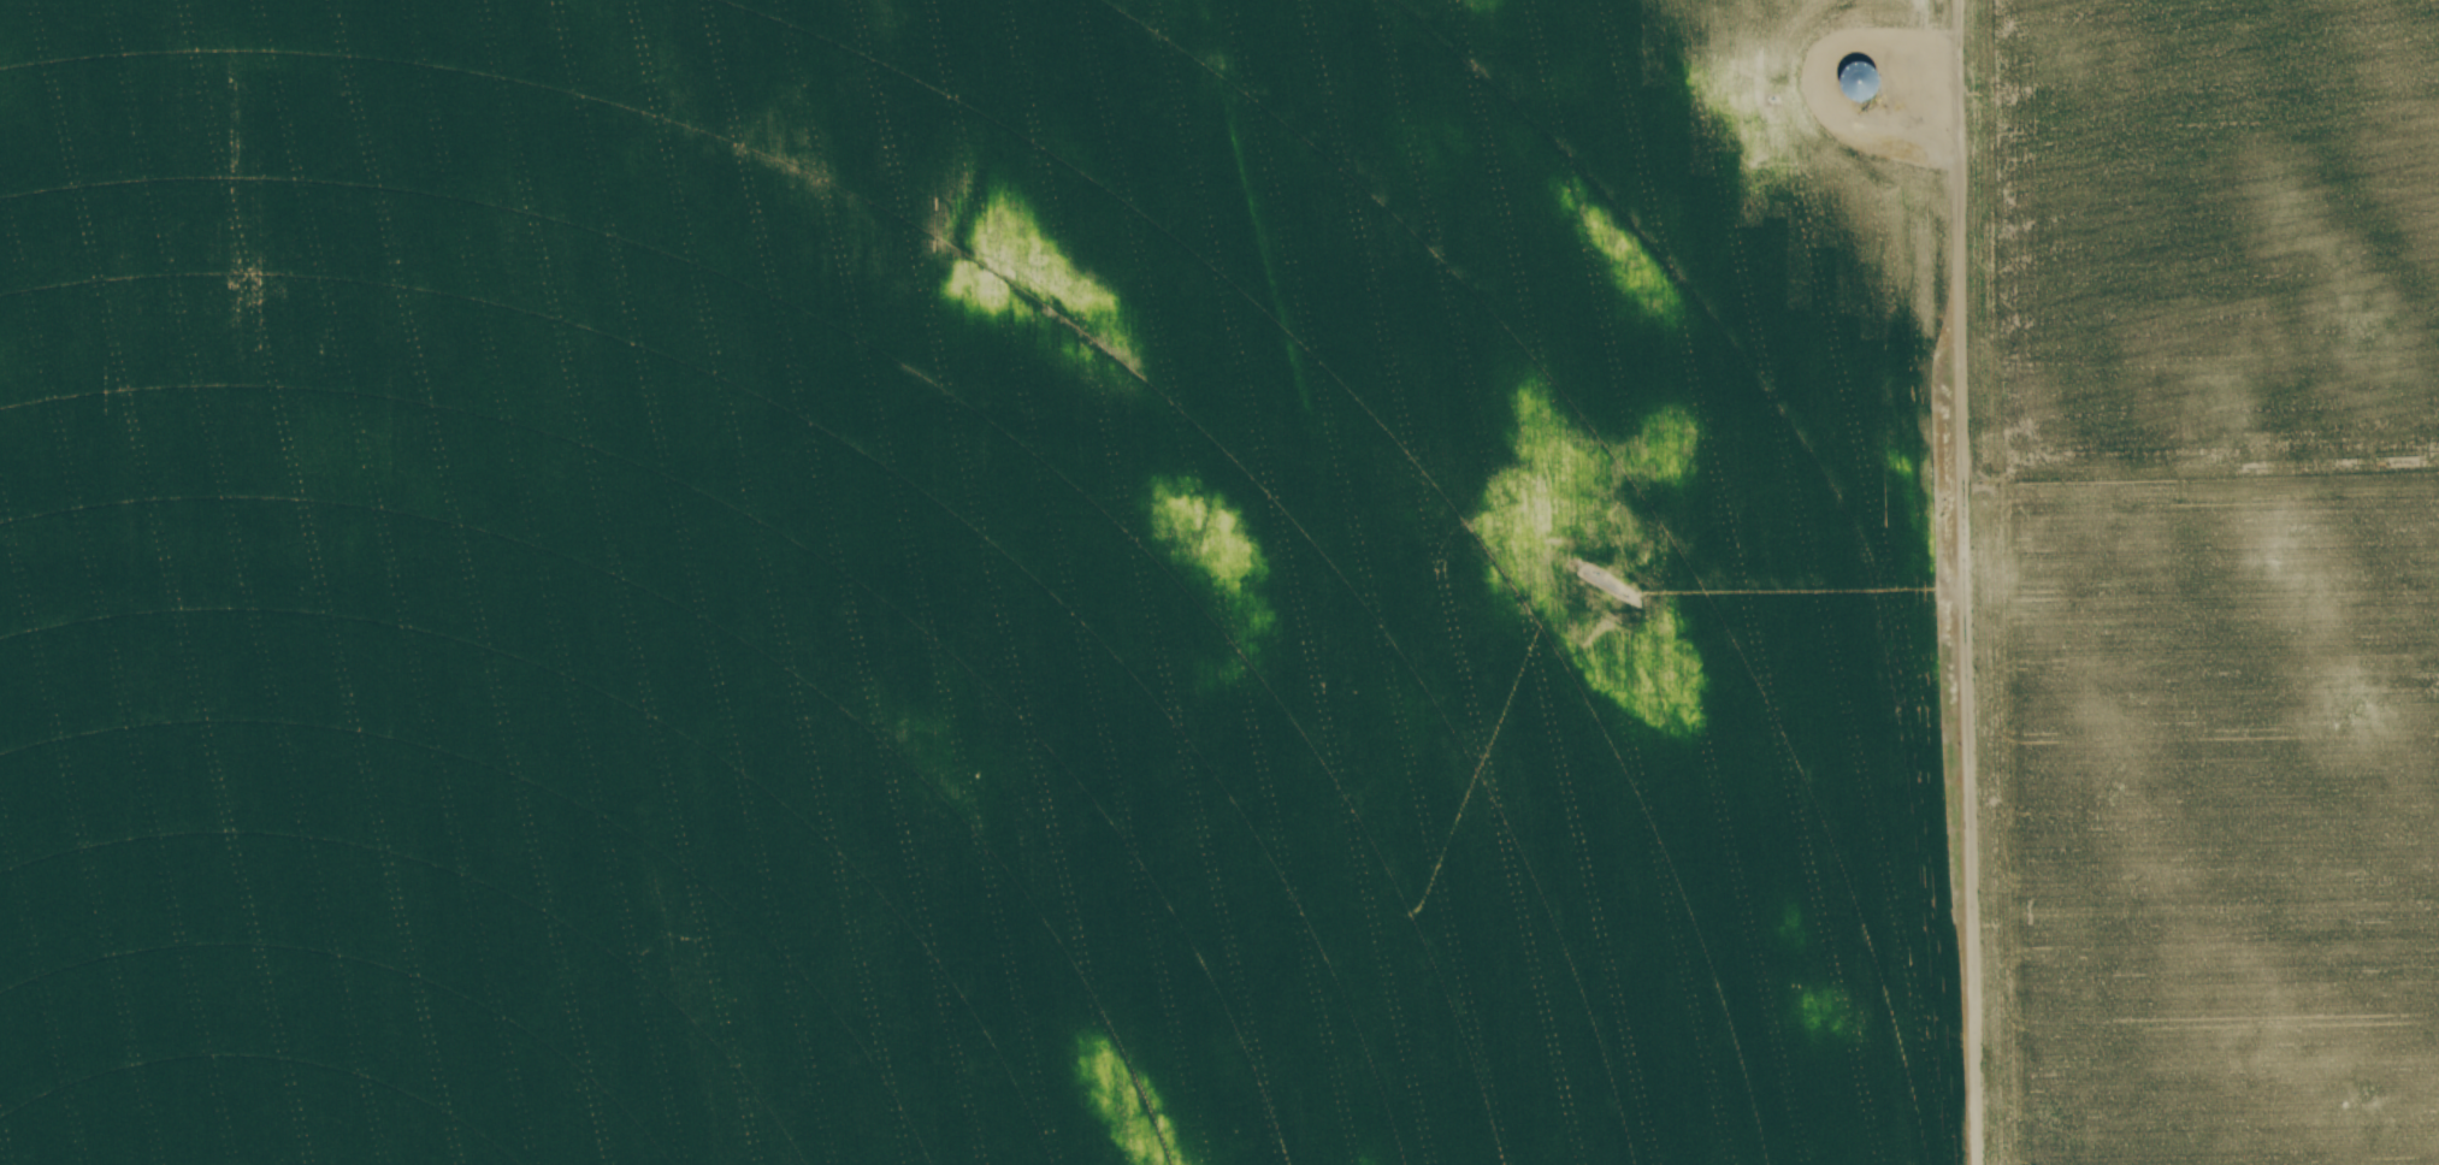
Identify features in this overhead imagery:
crop: (1219, 582)

